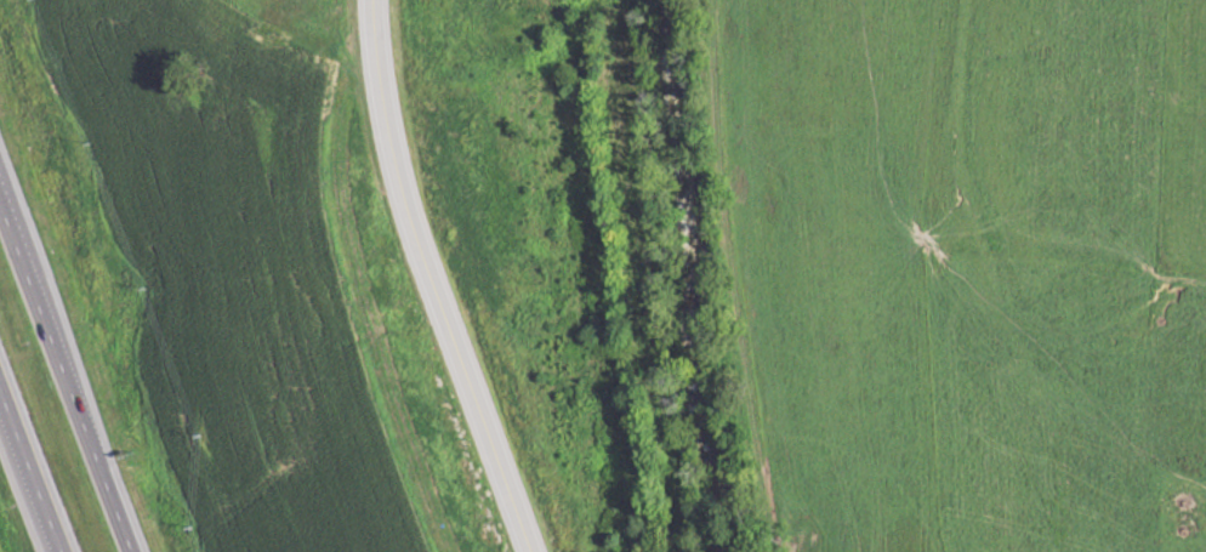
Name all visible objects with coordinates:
road: (430, 281)
road: (64, 379)
road: (30, 470)

